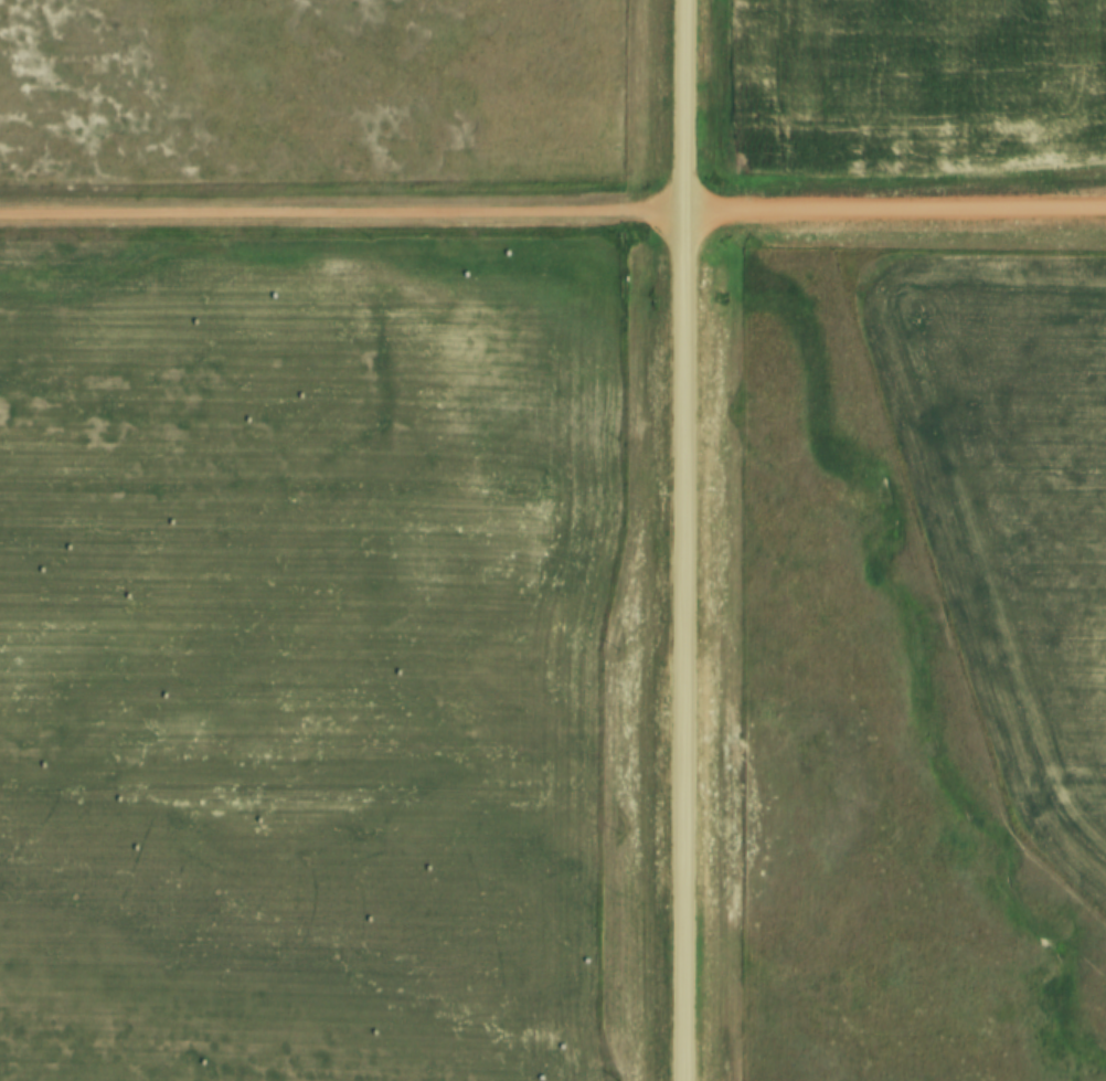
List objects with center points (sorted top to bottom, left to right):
road: (552, 202)
road: (688, 540)

